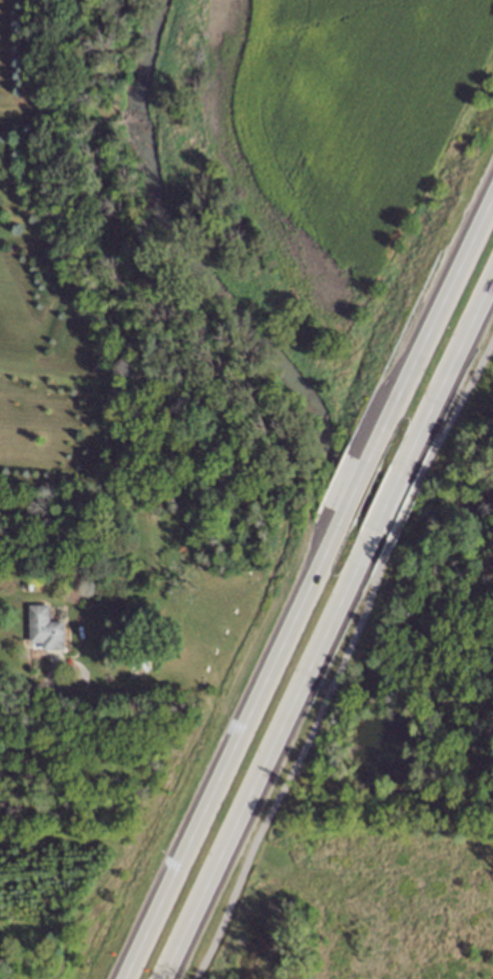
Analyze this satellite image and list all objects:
road: (429, 326)
road: (449, 381)
road: (346, 499)
road: (388, 507)
building: (26, 584)
building: (42, 627)
road: (341, 658)
building: (133, 668)
road: (224, 758)
road: (266, 760)

